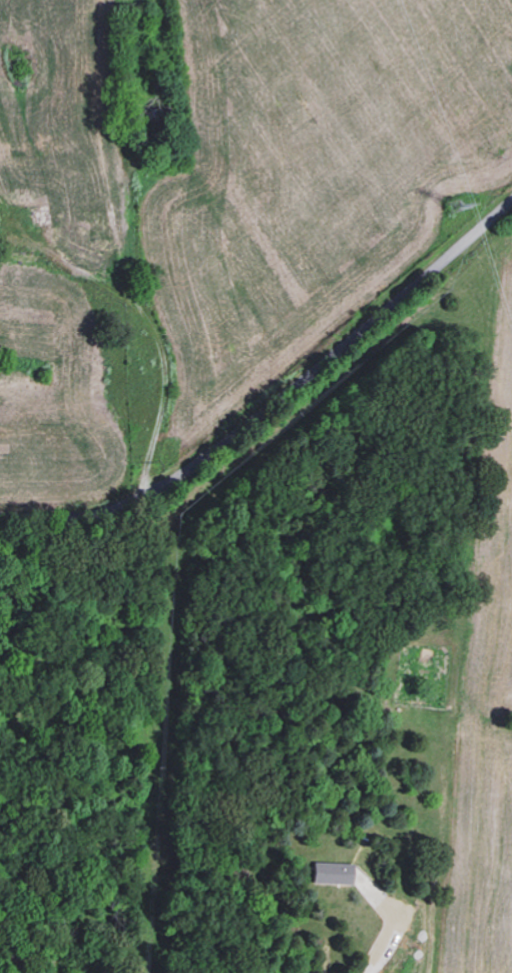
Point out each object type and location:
road: (276, 403)
building: (331, 872)
road: (388, 946)

